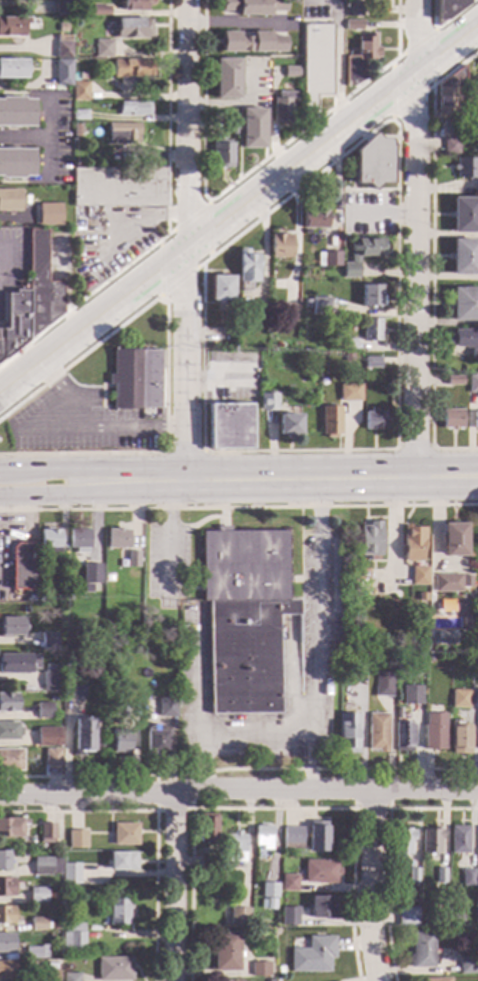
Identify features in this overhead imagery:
building: (133, 5)
building: (244, 7)
building: (61, 8)
building: (447, 9)
building: (352, 10)
building: (100, 11)
building: (65, 22)
road: (240, 24)
building: (352, 25)
road: (442, 25)
building: (12, 27)
building: (132, 28)
building: (250, 42)
building: (61, 47)
building: (102, 49)
building: (359, 59)
building: (314, 62)
road: (336, 67)
road: (396, 67)
building: (132, 68)
building: (12, 69)
building: (61, 72)
building: (290, 72)
building: (80, 76)
building: (225, 79)
building: (473, 88)
building: (78, 91)
building: (449, 93)
road: (231, 104)
building: (282, 106)
building: (133, 108)
building: (16, 112)
building: (78, 115)
building: (229, 125)
building: (252, 128)
building: (78, 129)
building: (121, 133)
road: (24, 138)
building: (450, 146)
building: (222, 155)
building: (15, 162)
building: (373, 162)
road: (396, 166)
building: (465, 167)
road: (246, 176)
building: (117, 187)
road: (369, 190)
road: (336, 191)
building: (10, 200)
road: (240, 207)
building: (49, 214)
parking lot: (366, 214)
building: (464, 215)
road: (380, 216)
building: (315, 217)
road: (167, 224)
road: (415, 239)
road: (114, 240)
road: (186, 240)
building: (281, 246)
building: (362, 255)
building: (463, 257)
building: (328, 259)
road: (431, 261)
road: (200, 262)
parking lot: (12, 265)
building: (246, 270)
building: (221, 288)
road: (66, 289)
building: (370, 296)
building: (31, 299)
building: (306, 304)
building: (464, 304)
building: (319, 306)
building: (259, 312)
building: (289, 313)
building: (370, 330)
building: (465, 340)
building: (347, 344)
road: (165, 357)
building: (347, 358)
building: (371, 363)
building: (324, 372)
building: (133, 379)
building: (453, 380)
building: (472, 383)
building: (348, 392)
building: (267, 402)
building: (451, 419)
building: (372, 420)
building: (475, 420)
building: (329, 421)
parking lot: (77, 422)
building: (287, 424)
building: (228, 426)
road: (90, 427)
road: (47, 428)
road: (413, 450)
road: (183, 453)
road: (5, 469)
road: (64, 469)
road: (297, 479)
road: (59, 494)
road: (239, 508)
road: (14, 516)
road: (165, 533)
road: (393, 537)
building: (116, 539)
building: (368, 539)
building: (453, 539)
building: (78, 540)
building: (48, 541)
building: (412, 543)
building: (131, 559)
building: (21, 565)
building: (89, 573)
building: (419, 576)
building: (106, 578)
building: (446, 583)
building: (85, 589)
building: (59, 594)
building: (421, 597)
road: (315, 608)
building: (24, 609)
building: (244, 617)
building: (10, 627)
building: (48, 640)
building: (394, 646)
building: (427, 658)
building: (344, 659)
building: (17, 664)
building: (50, 681)
road: (200, 681)
building: (382, 683)
building: (75, 689)
building: (410, 695)
building: (459, 698)
building: (8, 702)
building: (166, 707)
building: (44, 711)
building: (477, 720)
building: (9, 731)
building: (434, 731)
building: (377, 732)
building: (347, 733)
building: (48, 736)
building: (85, 736)
building: (401, 736)
building: (459, 737)
road: (228, 739)
building: (155, 740)
building: (119, 742)
building: (52, 757)
building: (10, 760)
road: (310, 765)
road: (238, 769)
road: (238, 794)
road: (272, 810)
road: (370, 810)
road: (173, 811)
road: (154, 818)
building: (11, 827)
building: (205, 830)
building: (46, 833)
building: (124, 834)
building: (291, 835)
building: (316, 836)
building: (261, 837)
building: (76, 839)
building: (459, 840)
building: (477, 840)
building: (430, 841)
building: (401, 842)
building: (234, 847)
road: (387, 850)
building: (4, 860)
building: (121, 861)
building: (45, 866)
building: (206, 866)
building: (319, 871)
building: (70, 873)
building: (412, 875)
building: (440, 876)
building: (466, 877)
building: (215, 883)
building: (288, 883)
building: (6, 887)
road: (369, 887)
road: (174, 888)
building: (268, 890)
building: (37, 895)
building: (51, 896)
building: (267, 904)
building: (321, 907)
building: (116, 911)
building: (6, 915)
building: (238, 916)
building: (288, 916)
building: (406, 917)
building: (459, 920)
building: (37, 924)
building: (56, 927)
building: (72, 939)
building: (6, 943)
building: (421, 950)
building: (35, 952)
building: (225, 952)
building: (313, 956)
building: (467, 965)
building: (50, 966)
building: (113, 969)
building: (259, 969)
building: (6, 970)
building: (47, 976)
building: (70, 977)
building: (436, 979)
building: (269, 980)

